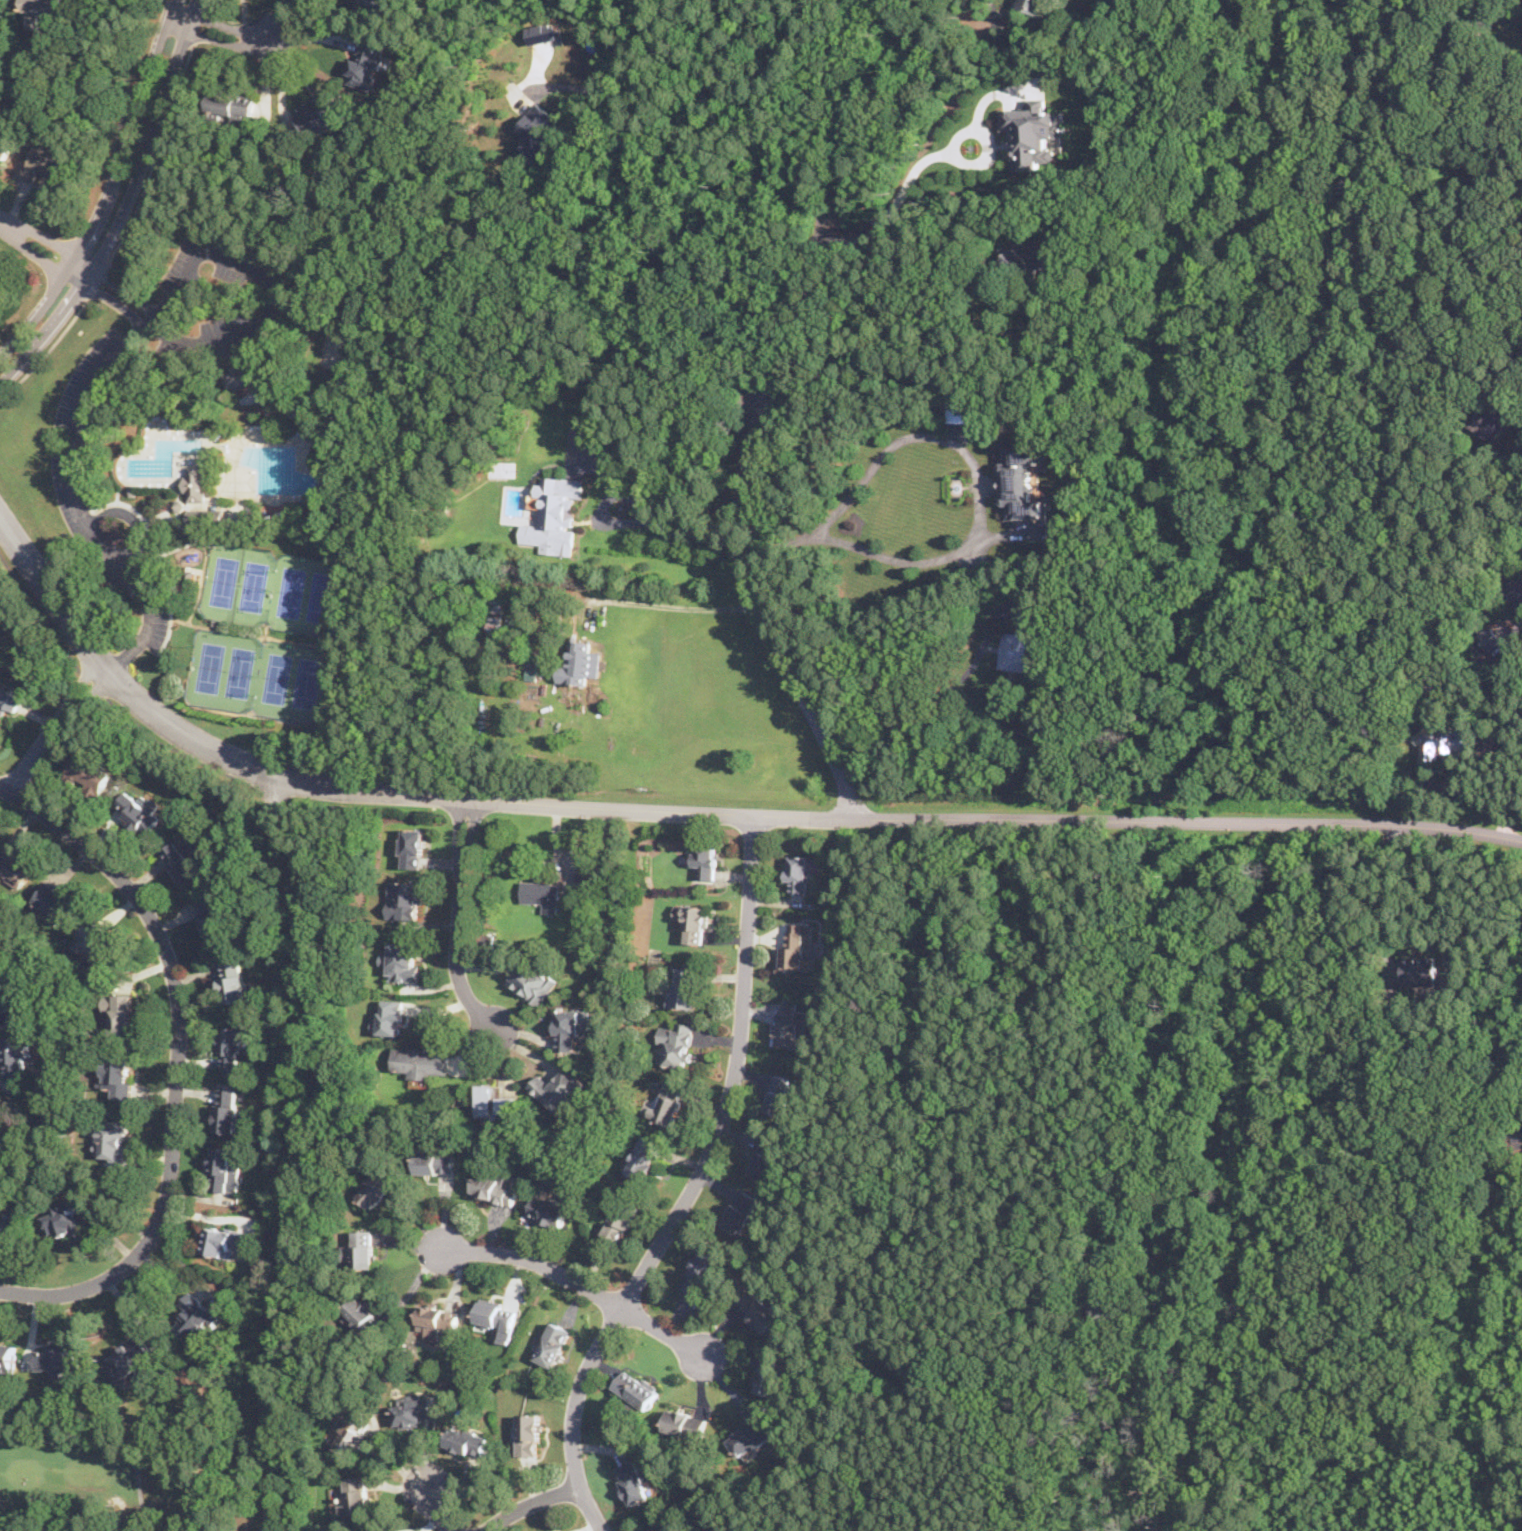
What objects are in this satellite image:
road: (205, 1)
building: (43, 4)
building: (373, 4)
building: (1034, 5)
road: (198, 22)
road: (226, 32)
building: (543, 32)
building: (366, 60)
road: (95, 81)
road: (713, 92)
building: (231, 103)
road: (777, 106)
building: (317, 110)
building: (1, 122)
building: (538, 131)
building: (1032, 132)
building: (4, 149)
road: (134, 156)
road: (156, 156)
building: (43, 163)
road: (117, 198)
road: (832, 199)
road: (896, 201)
road: (649, 210)
road: (382, 211)
road: (40, 246)
building: (1029, 262)
road: (97, 281)
road: (274, 283)
building: (0, 287)
road: (917, 323)
road: (47, 351)
building: (244, 375)
building: (267, 400)
building: (1487, 421)
road: (70, 461)
parking lot: (61, 467)
building: (195, 482)
building: (1020, 483)
building: (555, 514)
building: (204, 515)
road: (979, 516)
road: (666, 526)
building: (1517, 591)
road: (675, 606)
road: (763, 616)
park: (265, 632)
building: (1022, 644)
building: (582, 660)
road: (928, 697)
building: (9, 700)
road: (113, 702)
road: (53, 724)
building: (1442, 741)
building: (89, 774)
road: (1486, 788)
building: (137, 812)
road: (703, 812)
building: (412, 847)
building: (184, 861)
building: (705, 861)
building: (14, 868)
building: (800, 874)
building: (584, 880)
road: (1393, 889)
building: (540, 892)
building: (404, 899)
building: (55, 901)
building: (213, 916)
road: (458, 919)
building: (692, 920)
building: (94, 942)
building: (796, 948)
building: (403, 960)
building: (1420, 972)
building: (235, 981)
building: (533, 981)
building: (684, 989)
building: (8, 993)
building: (118, 1014)
building: (388, 1017)
building: (791, 1025)
road: (179, 1027)
building: (570, 1028)
building: (677, 1044)
building: (231, 1048)
building: (15, 1056)
building: (420, 1060)
building: (116, 1075)
building: (559, 1088)
road: (66, 1090)
building: (780, 1094)
building: (495, 1103)
building: (669, 1103)
building: (228, 1110)
building: (113, 1139)
building: (1515, 1140)
road: (295, 1149)
building: (644, 1157)
building: (767, 1158)
road: (32, 1163)
building: (434, 1164)
building: (225, 1169)
building: (495, 1184)
road: (692, 1187)
building: (378, 1188)
building: (549, 1211)
building: (741, 1212)
building: (622, 1220)
building: (65, 1221)
building: (7, 1230)
building: (224, 1240)
building: (360, 1250)
road: (533, 1260)
building: (701, 1273)
road: (31, 1292)
building: (1105, 1308)
building: (759, 1310)
building: (496, 1314)
building: (364, 1316)
building: (196, 1317)
building: (436, 1323)
road: (665, 1331)
building: (552, 1345)
building: (7, 1356)
building: (57, 1357)
road: (250, 1359)
building: (133, 1360)
building: (771, 1373)
building: (636, 1388)
building: (414, 1412)
building: (685, 1423)
building: (353, 1433)
building: (530, 1434)
building: (751, 1437)
building: (466, 1440)
park: (105, 1479)
building: (635, 1480)
building: (354, 1496)
road: (528, 1502)
road: (434, 1509)
building: (664, 1525)
building: (380, 1530)

